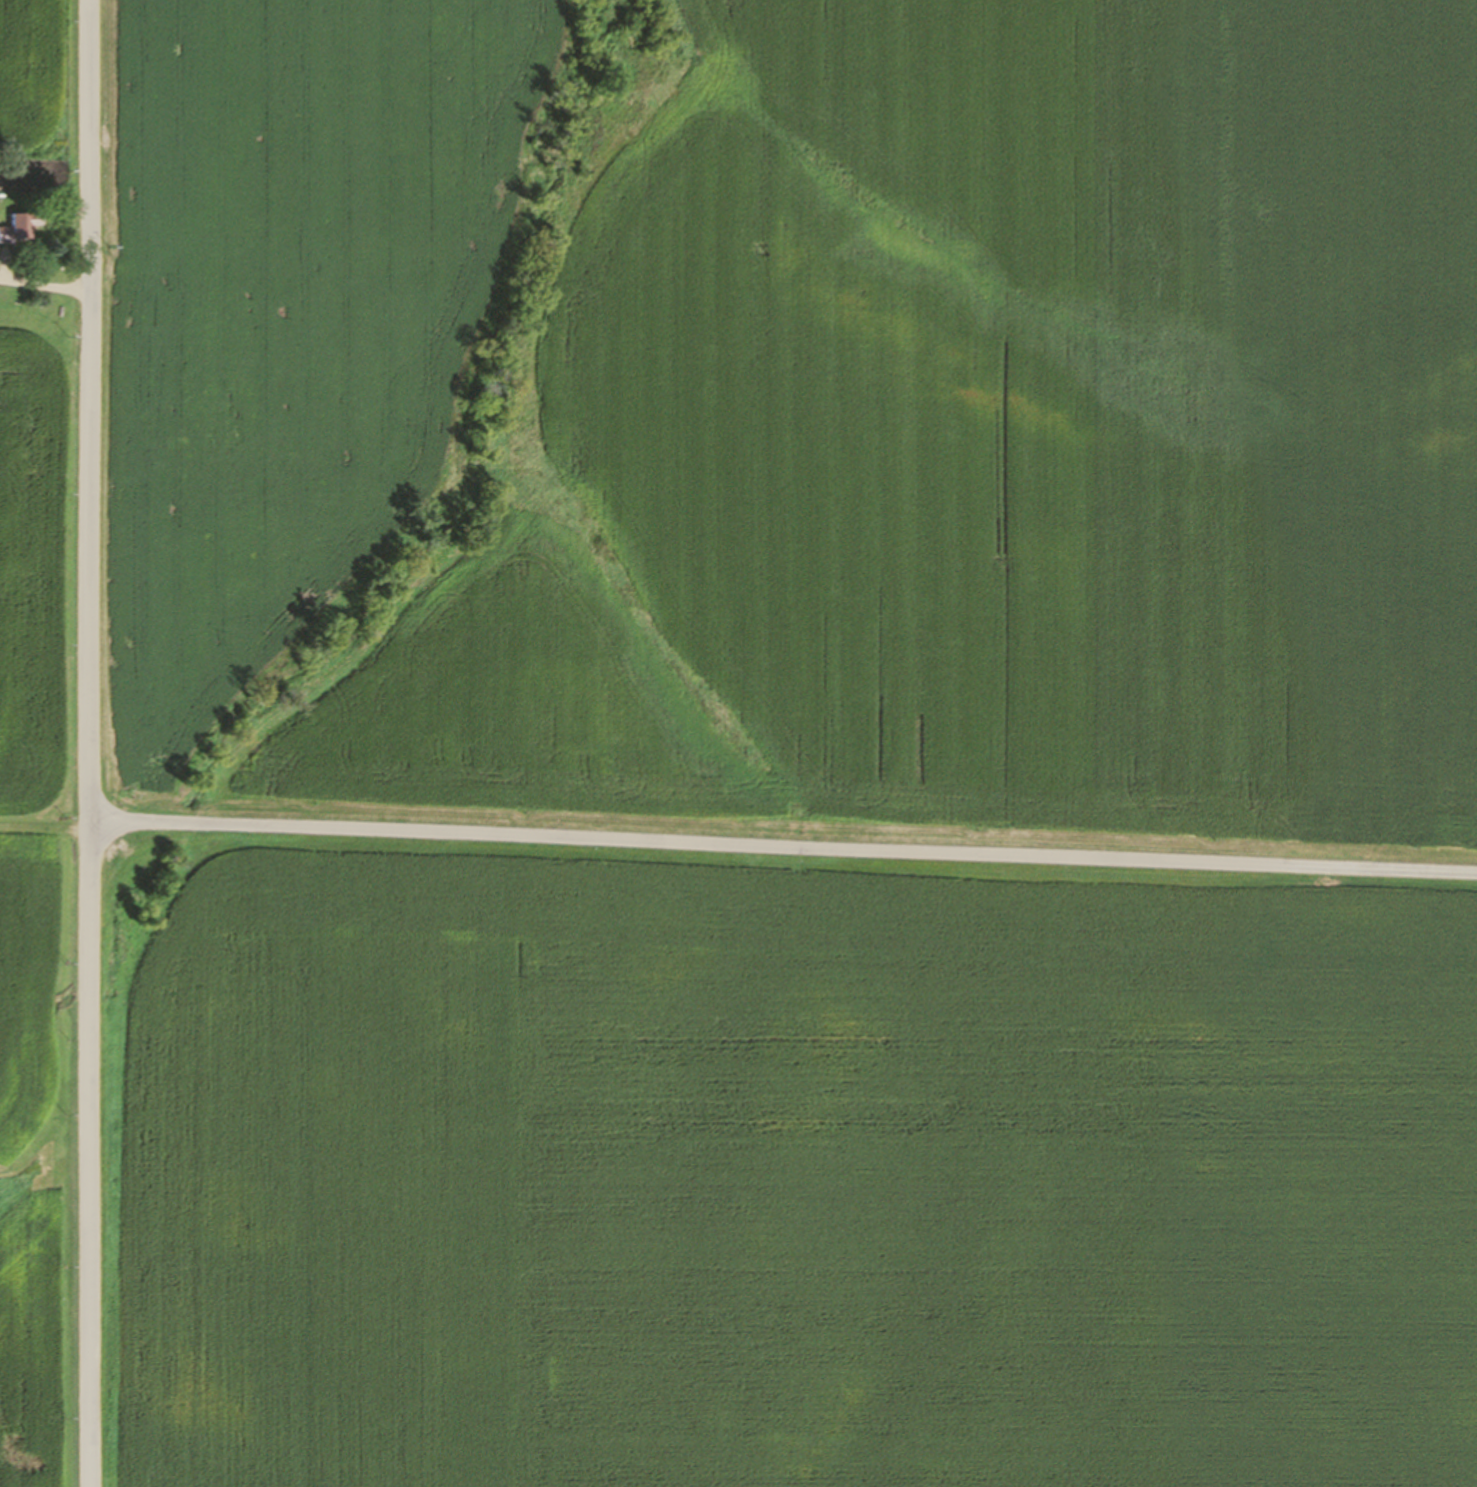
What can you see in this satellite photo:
building: (19, 227)
road: (89, 743)
road: (783, 841)

